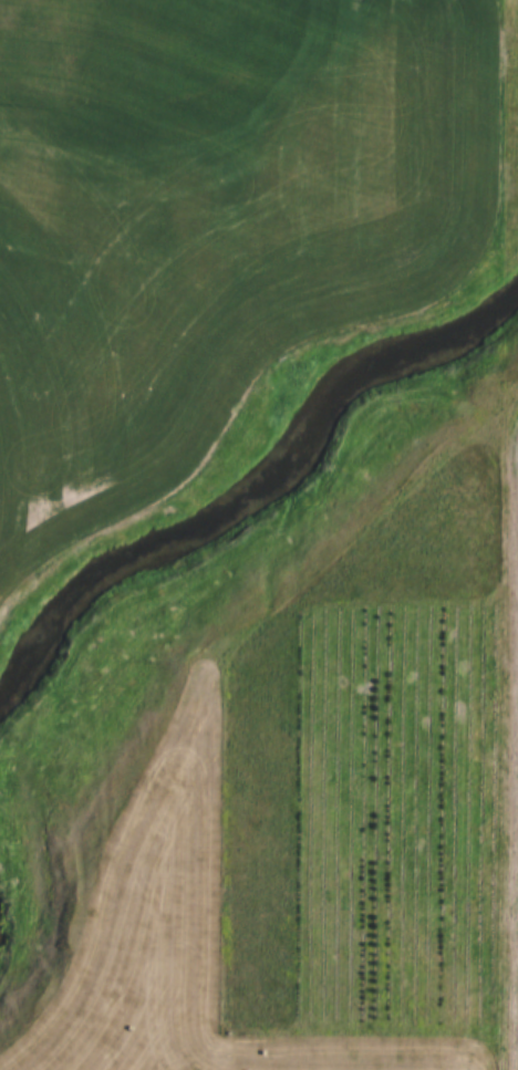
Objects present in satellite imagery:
road: (516, 1042)

